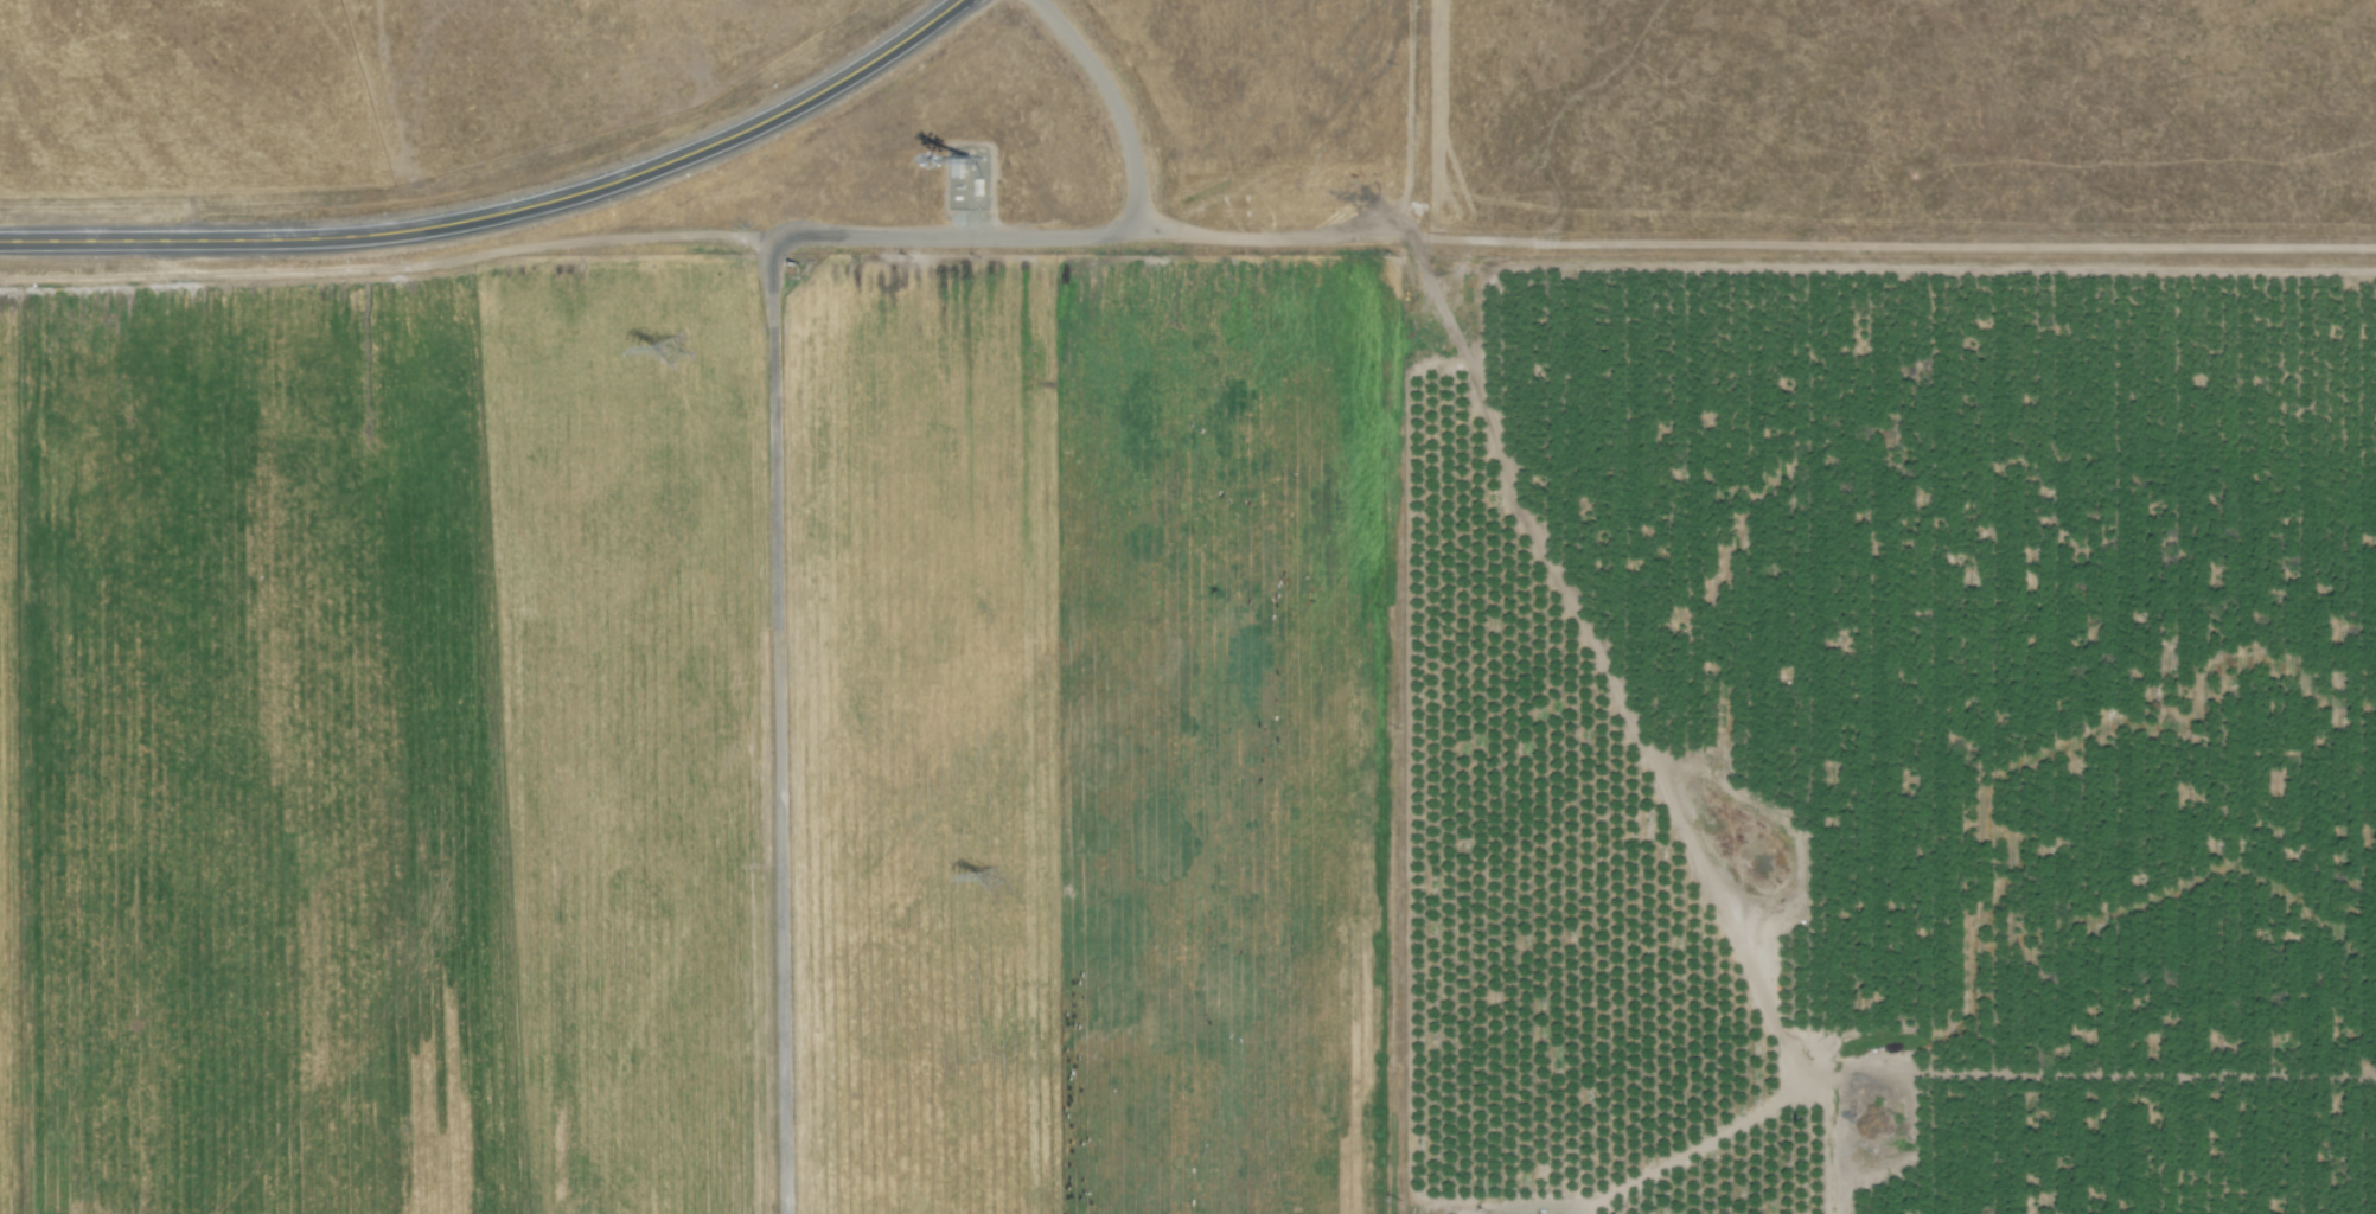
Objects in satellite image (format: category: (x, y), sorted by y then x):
building: (959, 167)
road: (506, 210)
building: (672, 351)
power tower: (672, 351)
road: (784, 420)
power tower: (991, 878)

